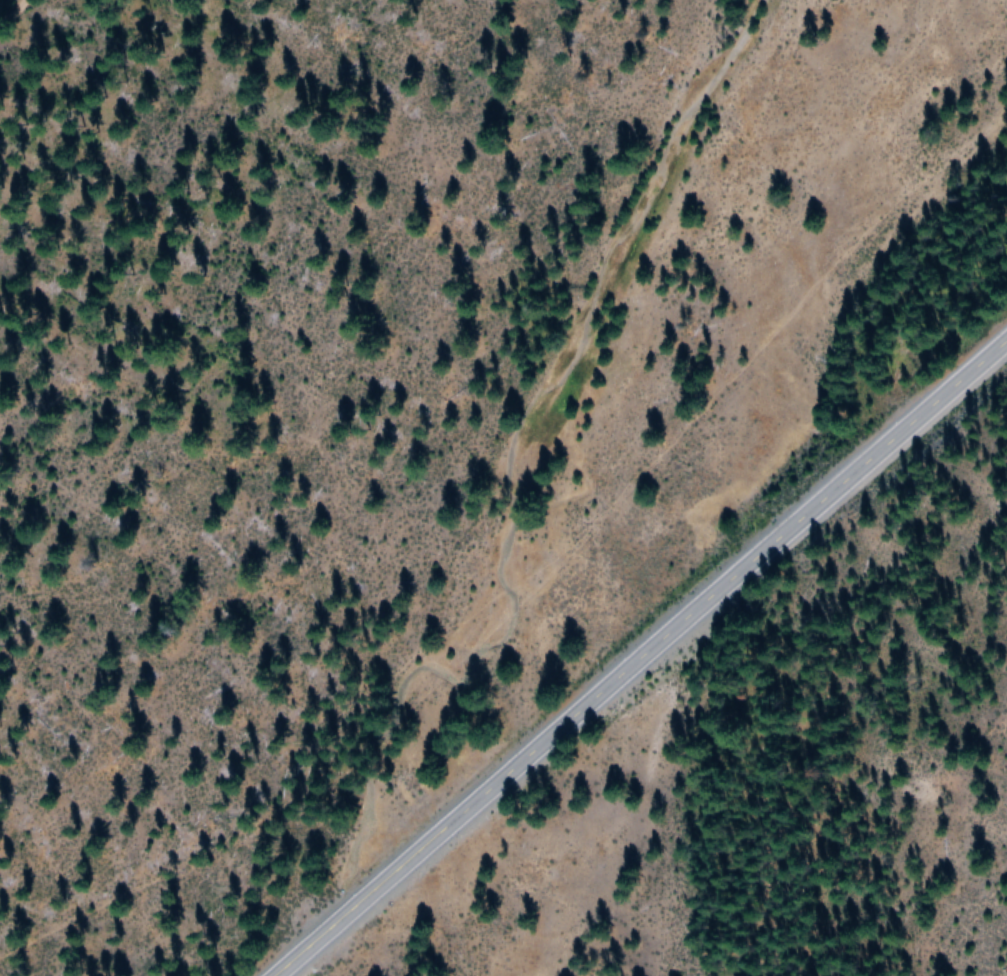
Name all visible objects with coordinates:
road: (12, 13)
road: (640, 657)

